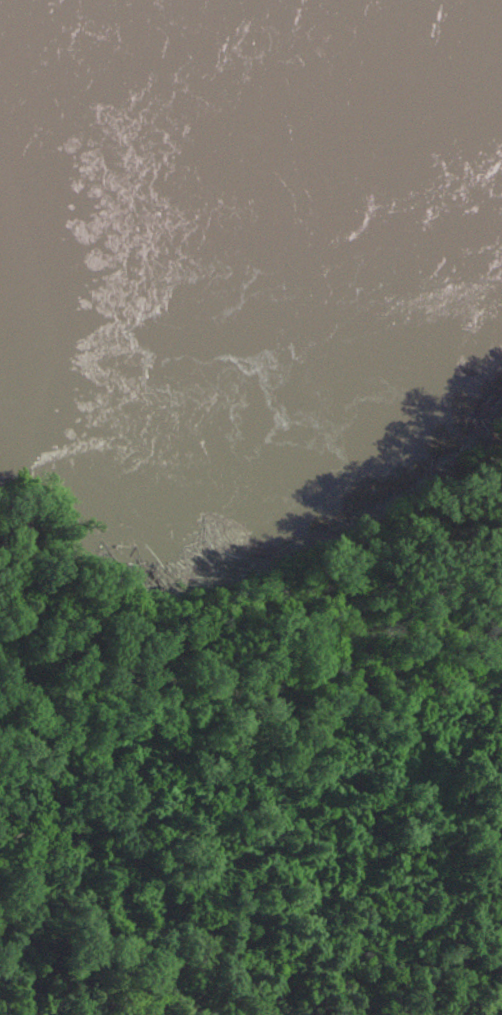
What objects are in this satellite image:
river: (184, 52)

